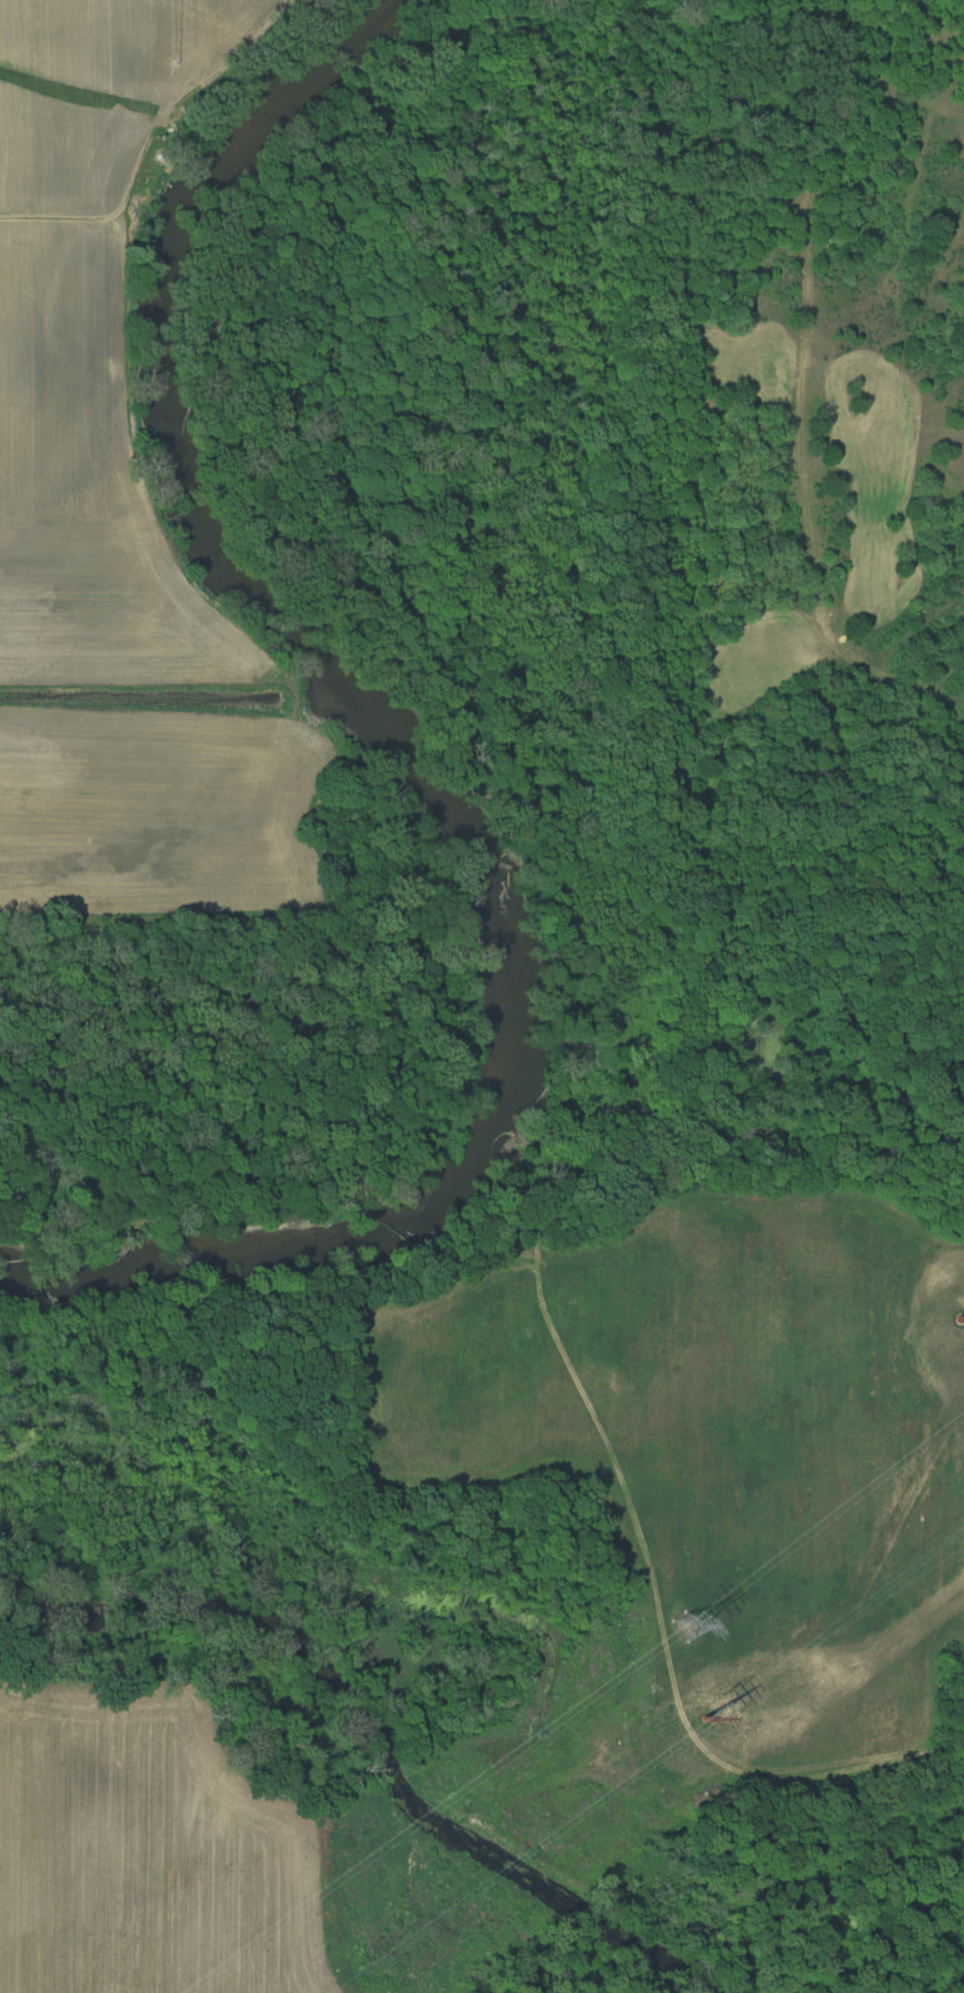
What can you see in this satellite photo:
river: (418, 765)
power tower: (957, 1309)
power tower: (682, 1626)
power tower: (702, 1707)

